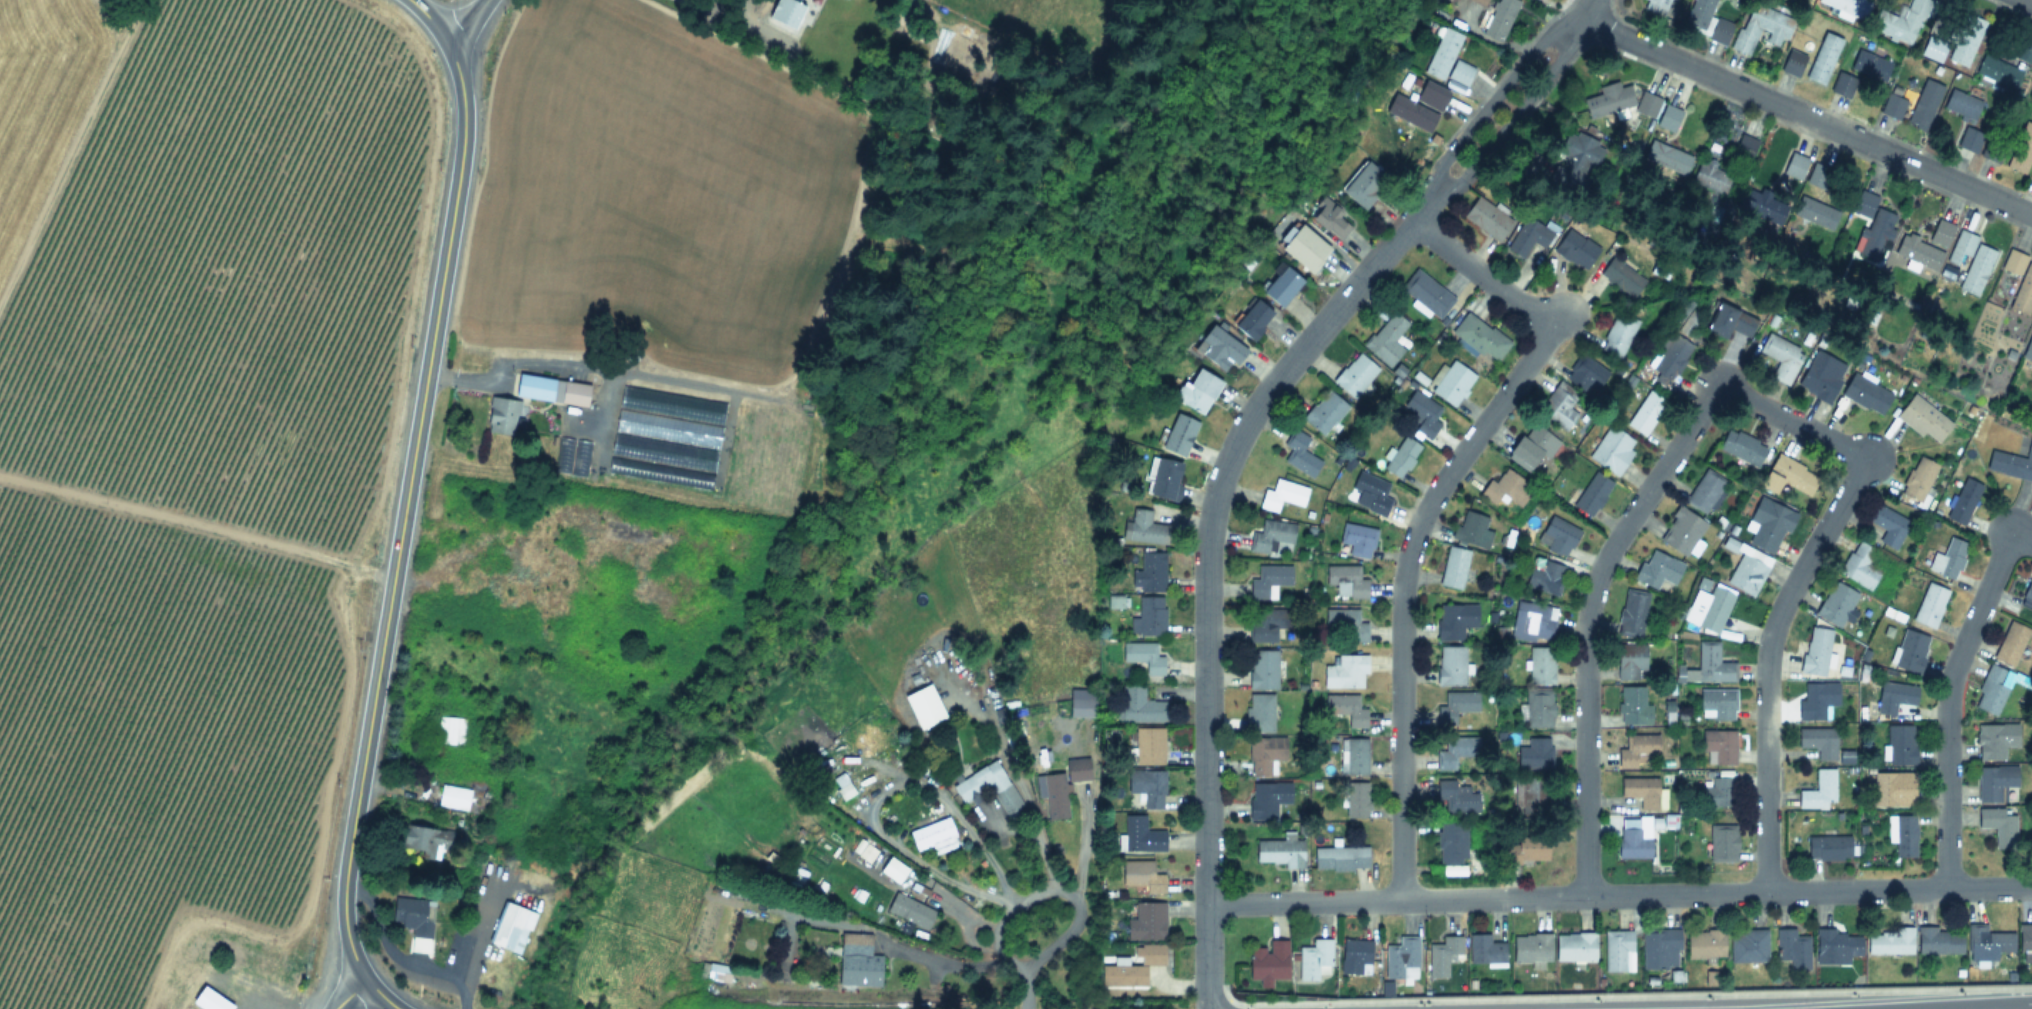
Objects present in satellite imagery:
road: (2030, 0)
building: (1475, 1)
building: (1655, 6)
building: (1848, 6)
building: (786, 13)
road: (722, 17)
road: (1580, 17)
building: (1499, 18)
road: (429, 21)
building: (1707, 21)
building: (1900, 22)
road: (465, 23)
building: (1761, 28)
building: (1965, 39)
building: (1933, 47)
building: (1442, 53)
building: (1823, 58)
building: (1792, 63)
building: (1870, 65)
building: (1997, 70)
building: (1459, 73)
building: (2031, 89)
building: (1431, 94)
building: (1608, 99)
building: (1894, 102)
building: (1647, 104)
building: (1924, 104)
building: (1962, 104)
road: (1488, 110)
building: (1411, 111)
road: (1806, 116)
building: (1669, 118)
road: (1505, 126)
building: (1967, 139)
building: (2021, 149)
building: (1991, 150)
road: (72, 153)
building: (1667, 156)
building: (1575, 160)
building: (1795, 166)
building: (1711, 175)
building: (2030, 176)
building: (1364, 183)
building: (1760, 206)
building: (1814, 213)
building: (1487, 217)
building: (1330, 218)
building: (1871, 226)
building: (1940, 232)
building: (1529, 235)
building: (1305, 248)
building: (1575, 249)
building: (1918, 252)
building: (1970, 260)
building: (1622, 276)
building: (2020, 281)
building: (1281, 286)
building: (1425, 293)
building: (1253, 319)
building: (1726, 321)
building: (1617, 336)
building: (1480, 337)
building: (1386, 339)
building: (1218, 348)
building: (2028, 349)
building: (1671, 356)
building: (1780, 357)
building: (1354, 374)
building: (1586, 374)
building: (1821, 375)
building: (1452, 382)
building: (1197, 389)
building: (551, 390)
building: (1865, 393)
building: (1557, 406)
building: (1324, 411)
building: (1422, 411)
building: (1645, 412)
building: (504, 415)
building: (1924, 418)
building: (667, 427)
building: (1179, 434)
building: (1741, 446)
building: (1528, 448)
building: (1612, 449)
building: (1299, 453)
building: (1401, 457)
building: (2011, 463)
crop: (163, 469)
building: (1789, 475)
building: (1918, 478)
building: (1165, 479)
building: (1505, 487)
building: (1704, 489)
building: (1372, 491)
building: (1591, 493)
building: (1282, 494)
building: (1963, 501)
road: (1425, 507)
road: (404, 512)
building: (1769, 523)
building: (1888, 525)
road: (197, 527)
building: (1143, 527)
building: (1473, 529)
building: (1681, 530)
building: (1557, 535)
building: (1272, 536)
building: (1357, 539)
road: (2020, 539)
building: (1948, 559)
building: (1860, 566)
building: (1453, 567)
building: (1657, 569)
road: (1205, 570)
building: (1151, 571)
building: (1746, 575)
building: (1544, 576)
building: (1268, 580)
building: (1346, 580)
road: (1793, 586)
building: (2027, 594)
building: (1836, 604)
building: (1929, 606)
building: (1714, 609)
building: (1632, 613)
building: (1148, 617)
building: (1455, 620)
building: (1533, 622)
road: (1586, 622)
building: (1346, 623)
building: (1262, 628)
building: (2011, 644)
building: (1815, 652)
building: (1910, 652)
building: (1143, 657)
building: (1631, 661)
building: (1712, 664)
building: (1450, 666)
building: (1540, 666)
building: (1263, 670)
building: (1345, 672)
building: (1992, 690)
building: (1893, 697)
building: (1816, 701)
building: (1082, 704)
building: (1717, 704)
road: (1947, 705)
building: (1140, 706)
building: (1631, 706)
building: (923, 707)
building: (1455, 707)
building: (1345, 709)
building: (1538, 710)
building: (1260, 713)
building: (449, 730)
building: (1996, 740)
building: (1818, 742)
building: (1899, 745)
building: (1148, 747)
building: (1718, 748)
building: (1636, 750)
building: (1457, 752)
building: (1534, 755)
building: (1354, 759)
building: (1260, 766)
building: (1995, 783)
building: (842, 787)
building: (987, 787)
building: (1147, 787)
building: (1059, 788)
road: (877, 789)
building: (1818, 791)
building: (1640, 792)
building: (1889, 792)
road: (1021, 793)
building: (1717, 794)
building: (1532, 795)
building: (453, 798)
building: (1267, 799)
building: (1452, 799)
building: (1356, 800)
building: (1999, 826)
building: (933, 836)
building: (1139, 836)
building: (1902, 836)
building: (424, 841)
building: (1631, 841)
building: (1722, 844)
building: (1828, 847)
building: (1452, 848)
building: (1280, 852)
building: (1524, 852)
building: (1340, 859)
building: (1141, 877)
road: (1055, 889)
road: (1619, 895)
building: (910, 911)
building: (414, 917)
building: (1145, 922)
building: (511, 925)
road: (471, 936)
building: (1939, 941)
building: (2025, 941)
building: (1890, 942)
building: (1987, 943)
building: (1705, 945)
building: (1836, 945)
building: (1747, 946)
building: (1575, 947)
building: (1531, 949)
building: (1660, 949)
building: (1792, 949)
building: (1485, 950)
building: (1618, 951)
building: (1442, 955)
building: (1355, 957)
road: (398, 959)
building: (1401, 959)
road: (949, 960)
building: (1314, 960)
building: (857, 962)
building: (1268, 962)
building: (1131, 968)
building: (716, 972)
road: (352, 992)
road: (1028, 992)
road: (386, 993)
road: (1888, 1005)

